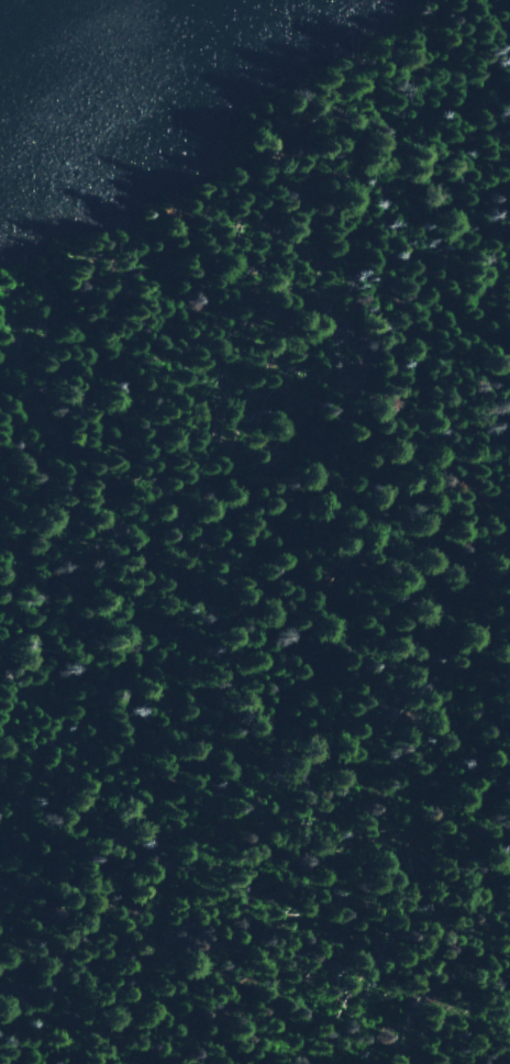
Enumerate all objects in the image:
road: (292, 124)

